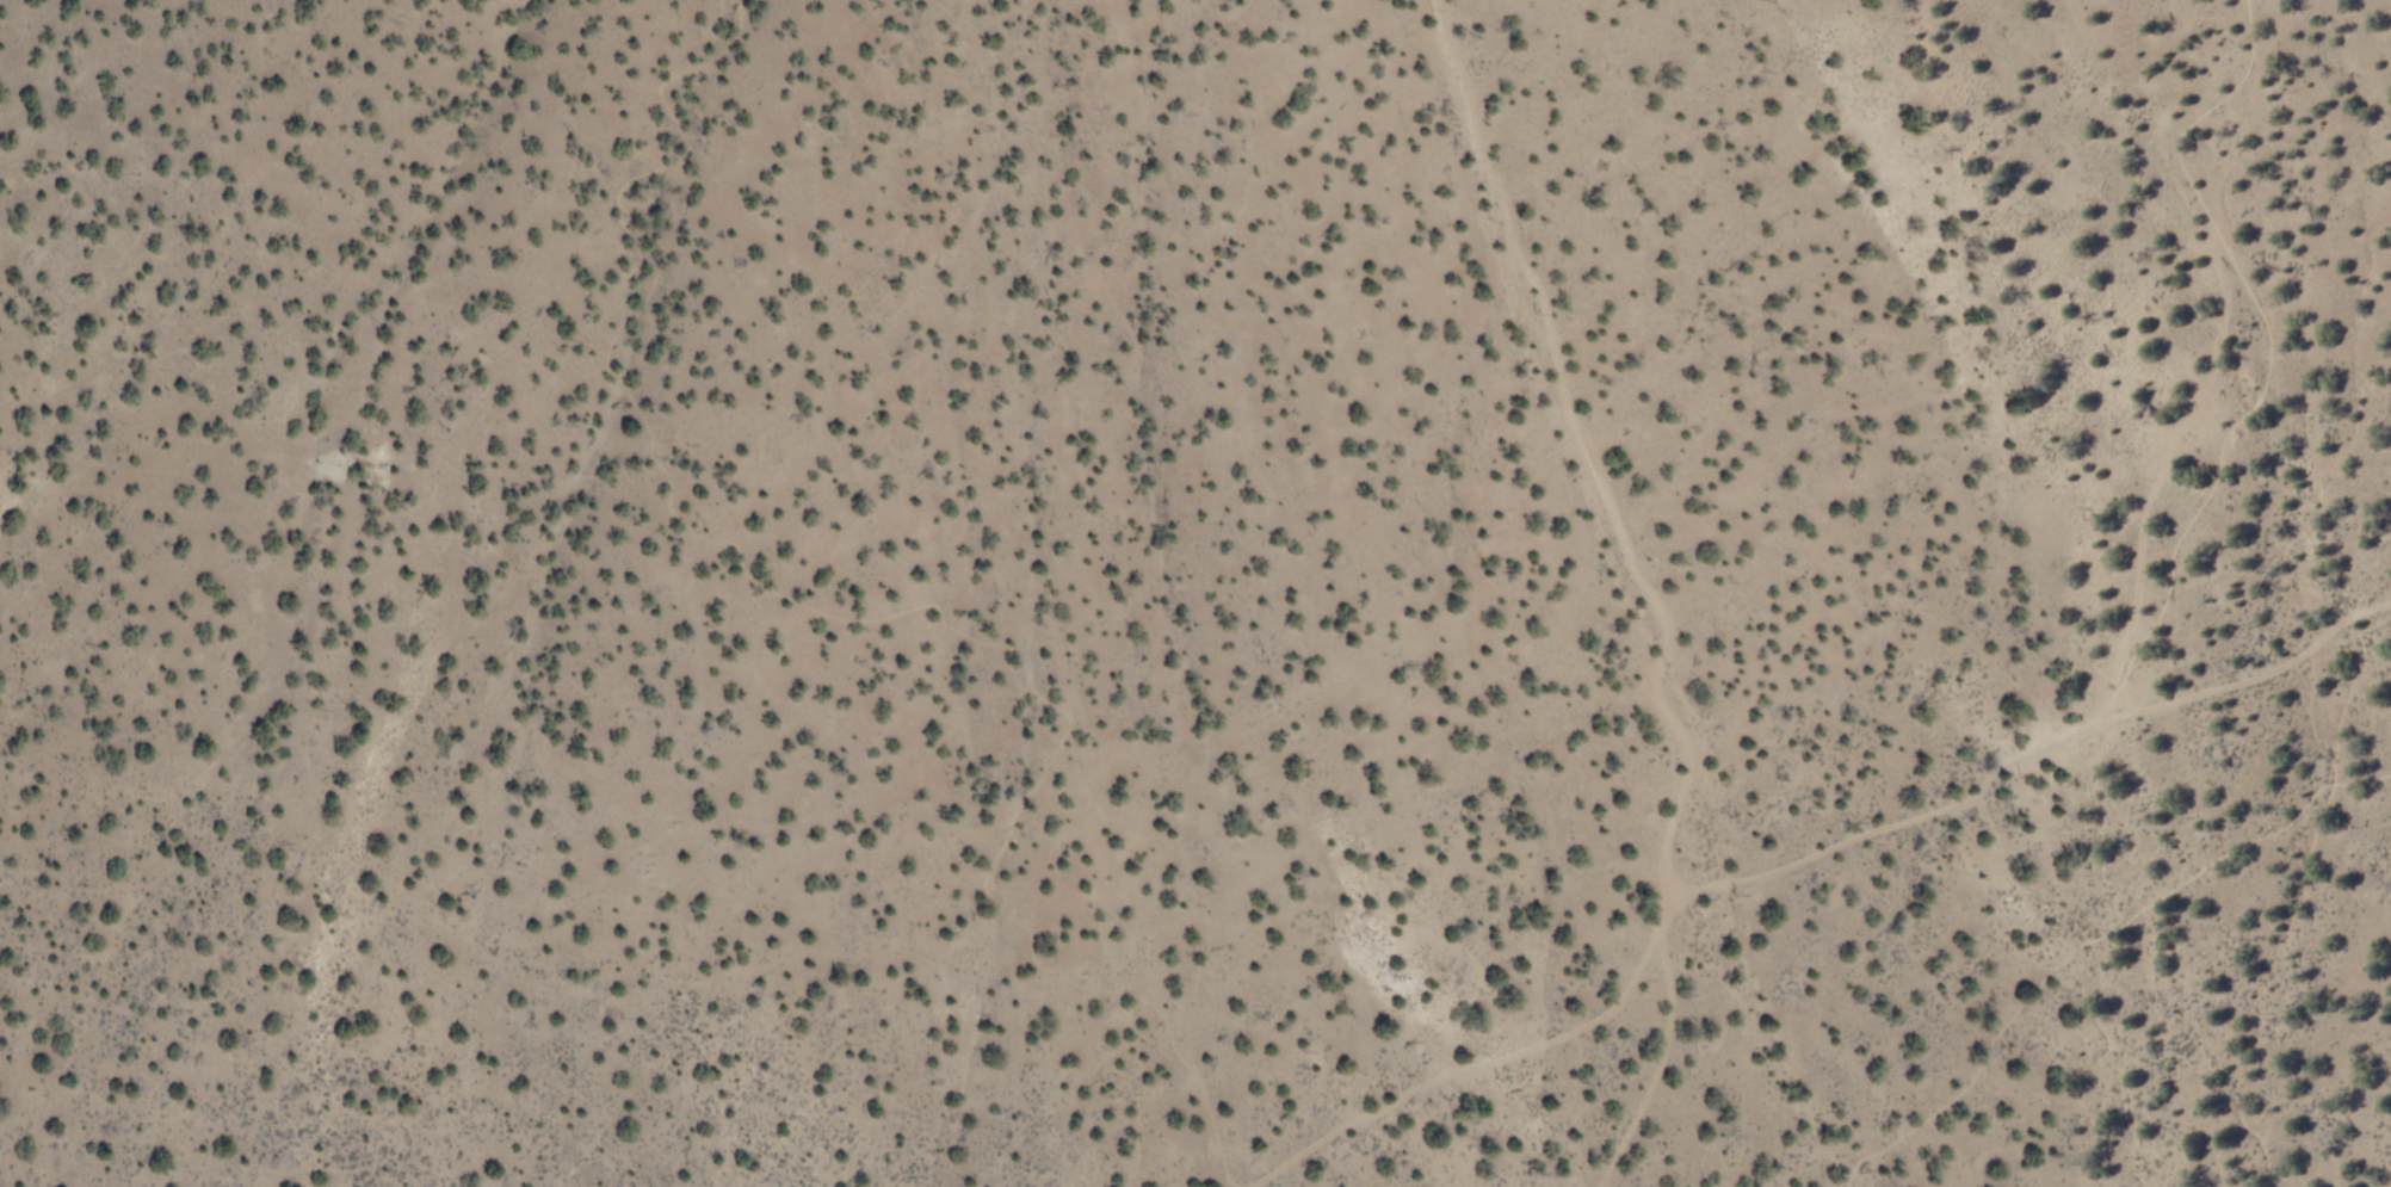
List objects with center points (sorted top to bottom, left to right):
road: (2266, 363)
road: (1584, 462)
road: (1793, 863)
road: (2009, 877)
road: (2088, 939)
road: (1657, 1059)

